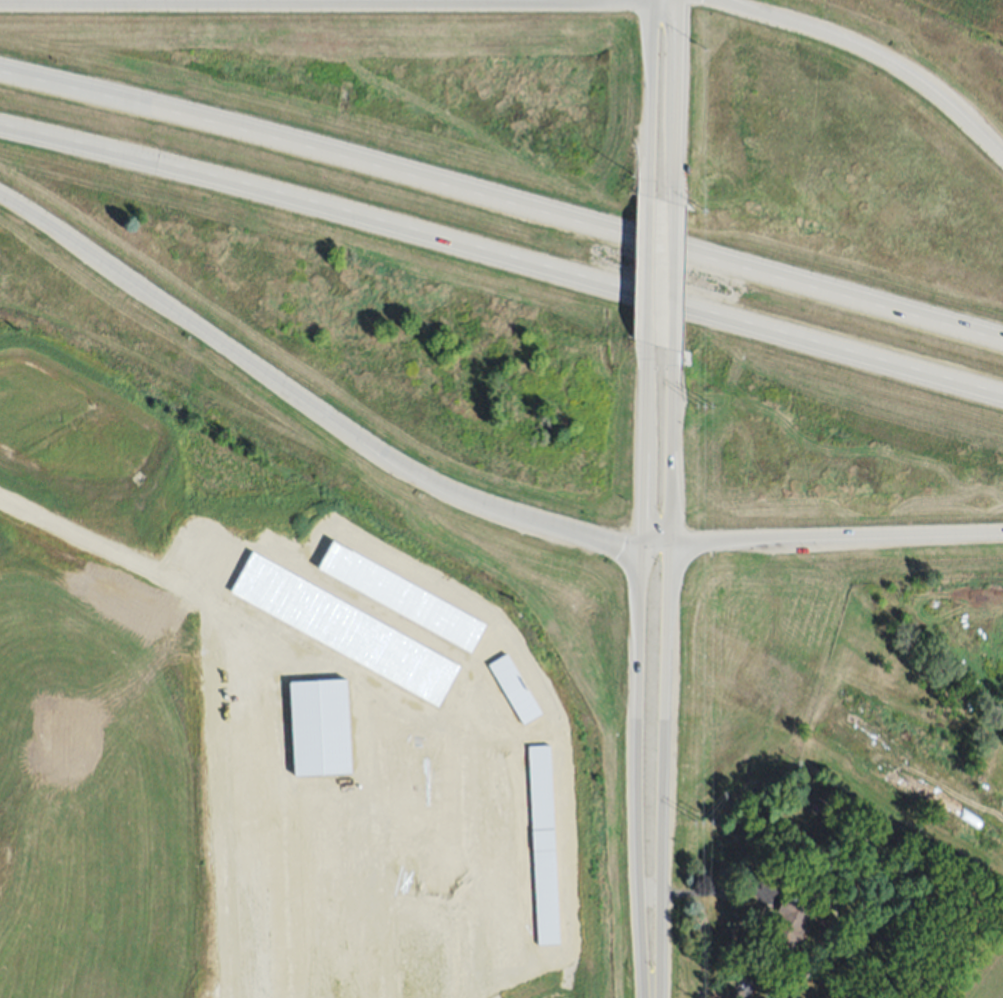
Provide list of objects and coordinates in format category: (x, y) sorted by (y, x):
road: (306, 4)
road: (871, 55)
road: (651, 99)
road: (675, 102)
road: (502, 200)
road: (502, 262)
road: (648, 272)
road: (671, 277)
road: (305, 397)
road: (820, 535)
road: (637, 672)
road: (663, 674)
building: (514, 690)
building: (320, 728)
building: (543, 845)
road: (717, 892)
building: (791, 923)

